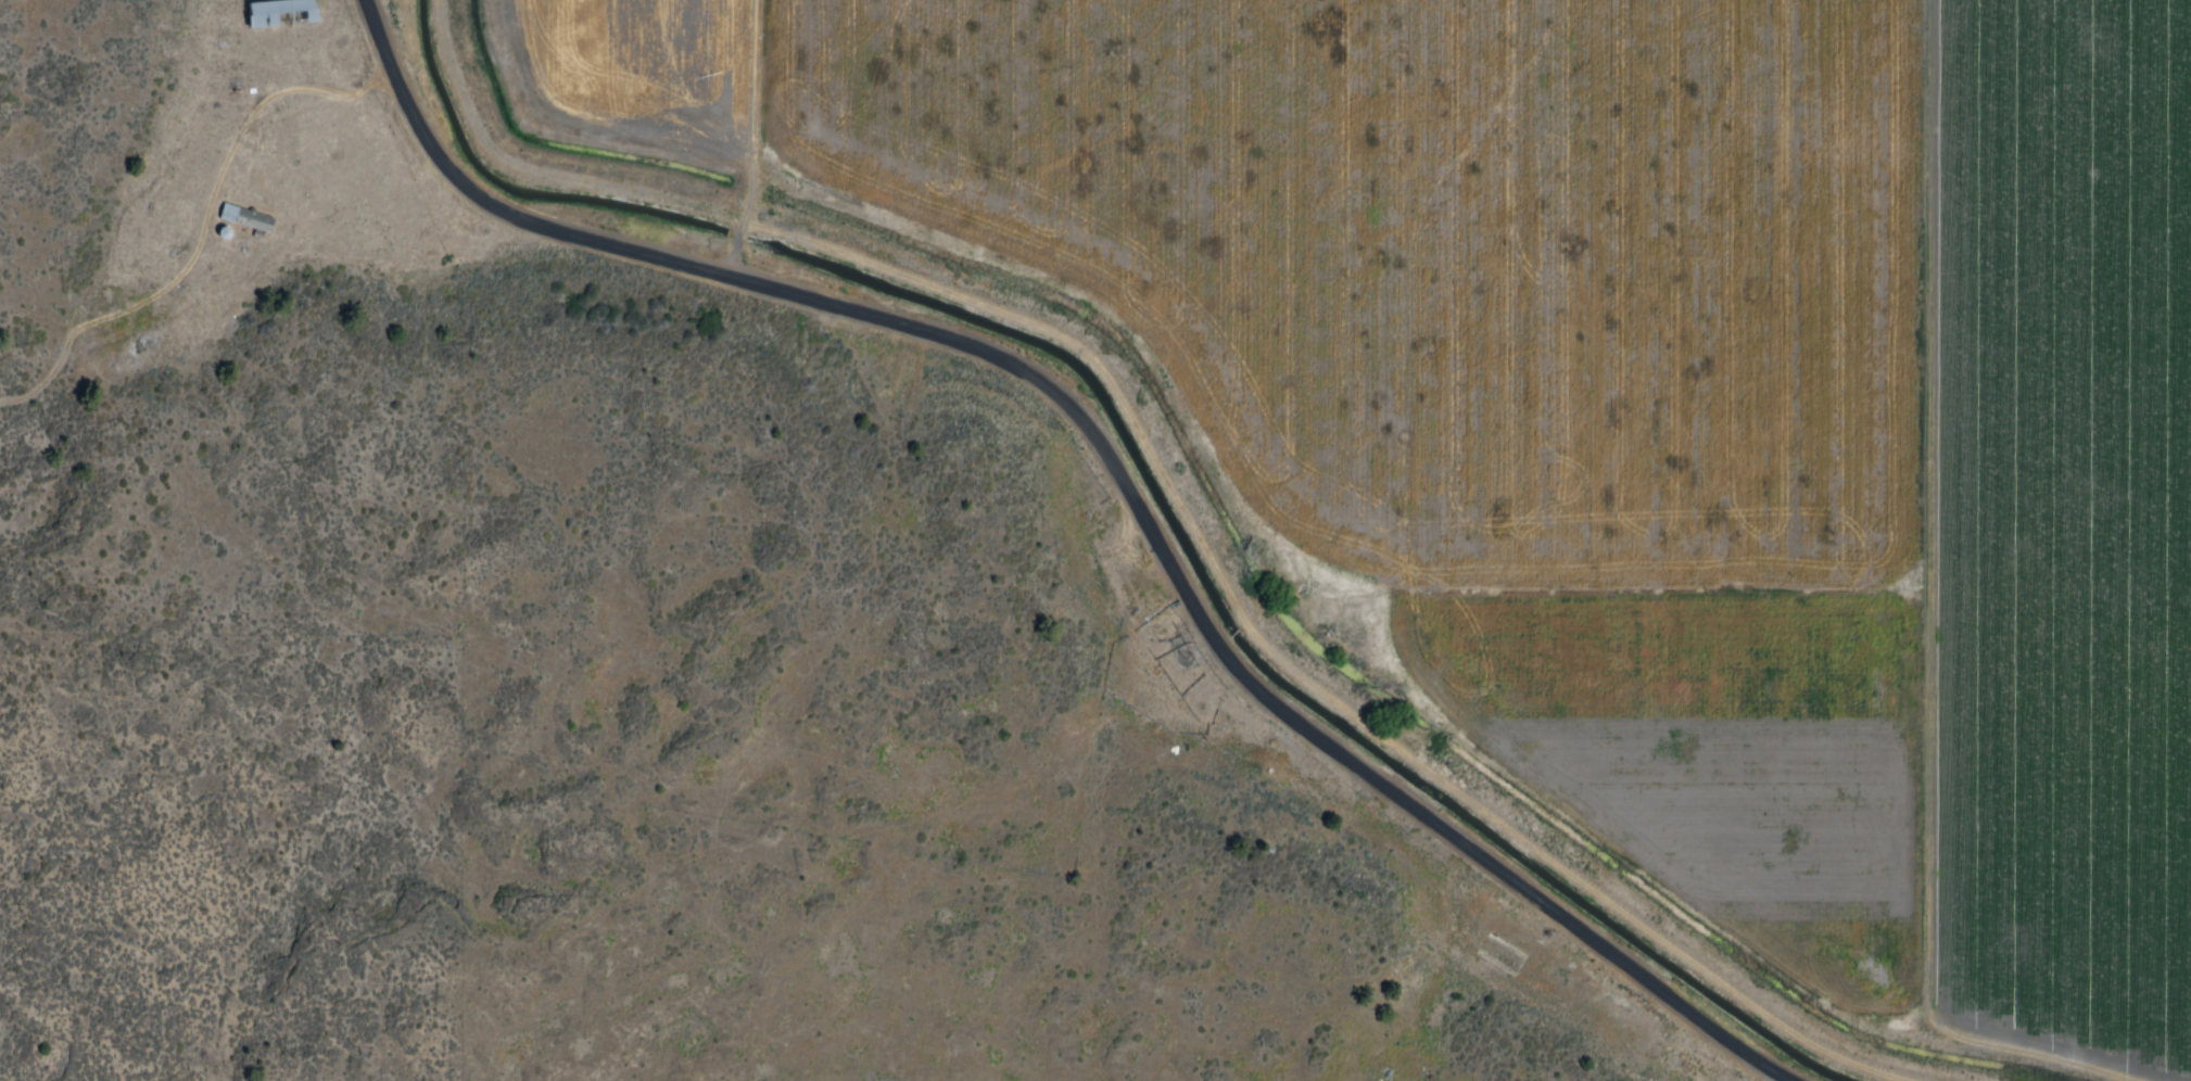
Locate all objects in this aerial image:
building: (286, 10)
crop: (644, 62)
building: (252, 214)
road: (738, 219)
silo: (232, 230)
road: (202, 232)
crop: (1509, 369)
road: (1111, 461)
crop: (2062, 527)

